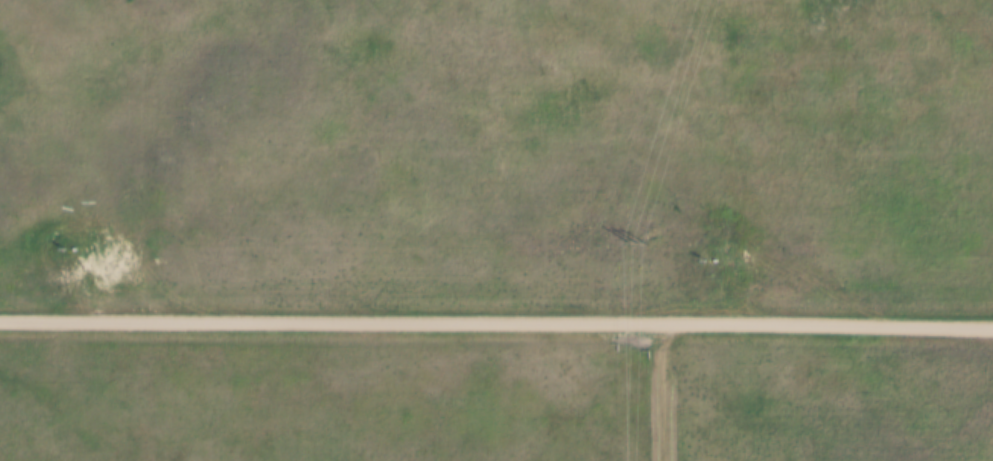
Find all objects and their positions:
road: (496, 320)
road: (659, 390)

